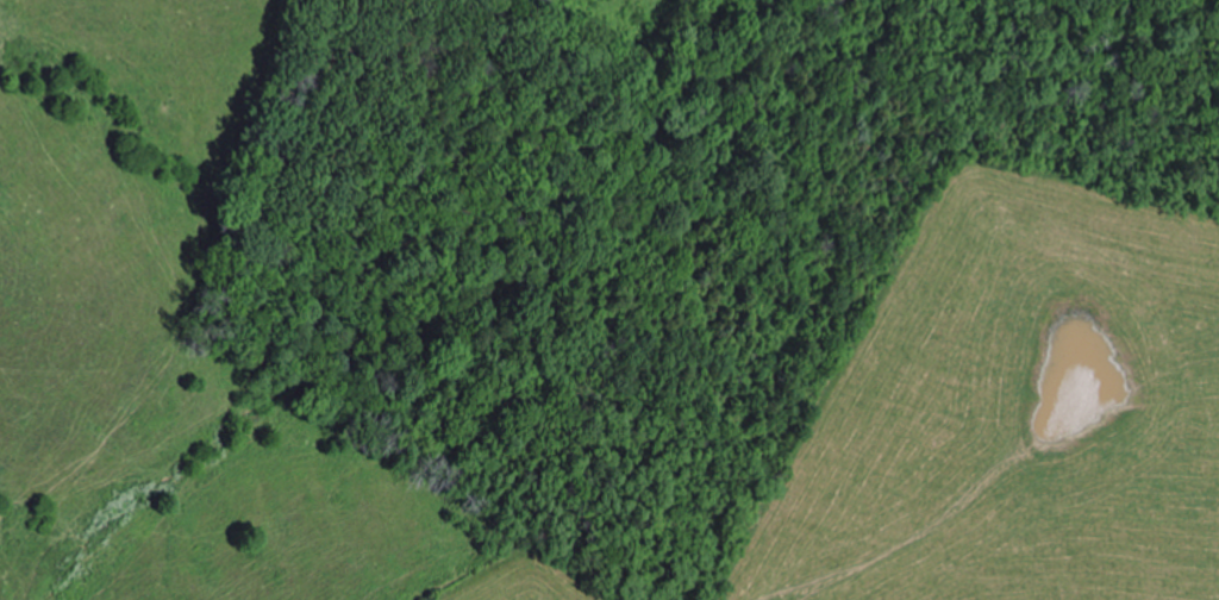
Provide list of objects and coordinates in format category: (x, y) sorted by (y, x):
road: (917, 300)

